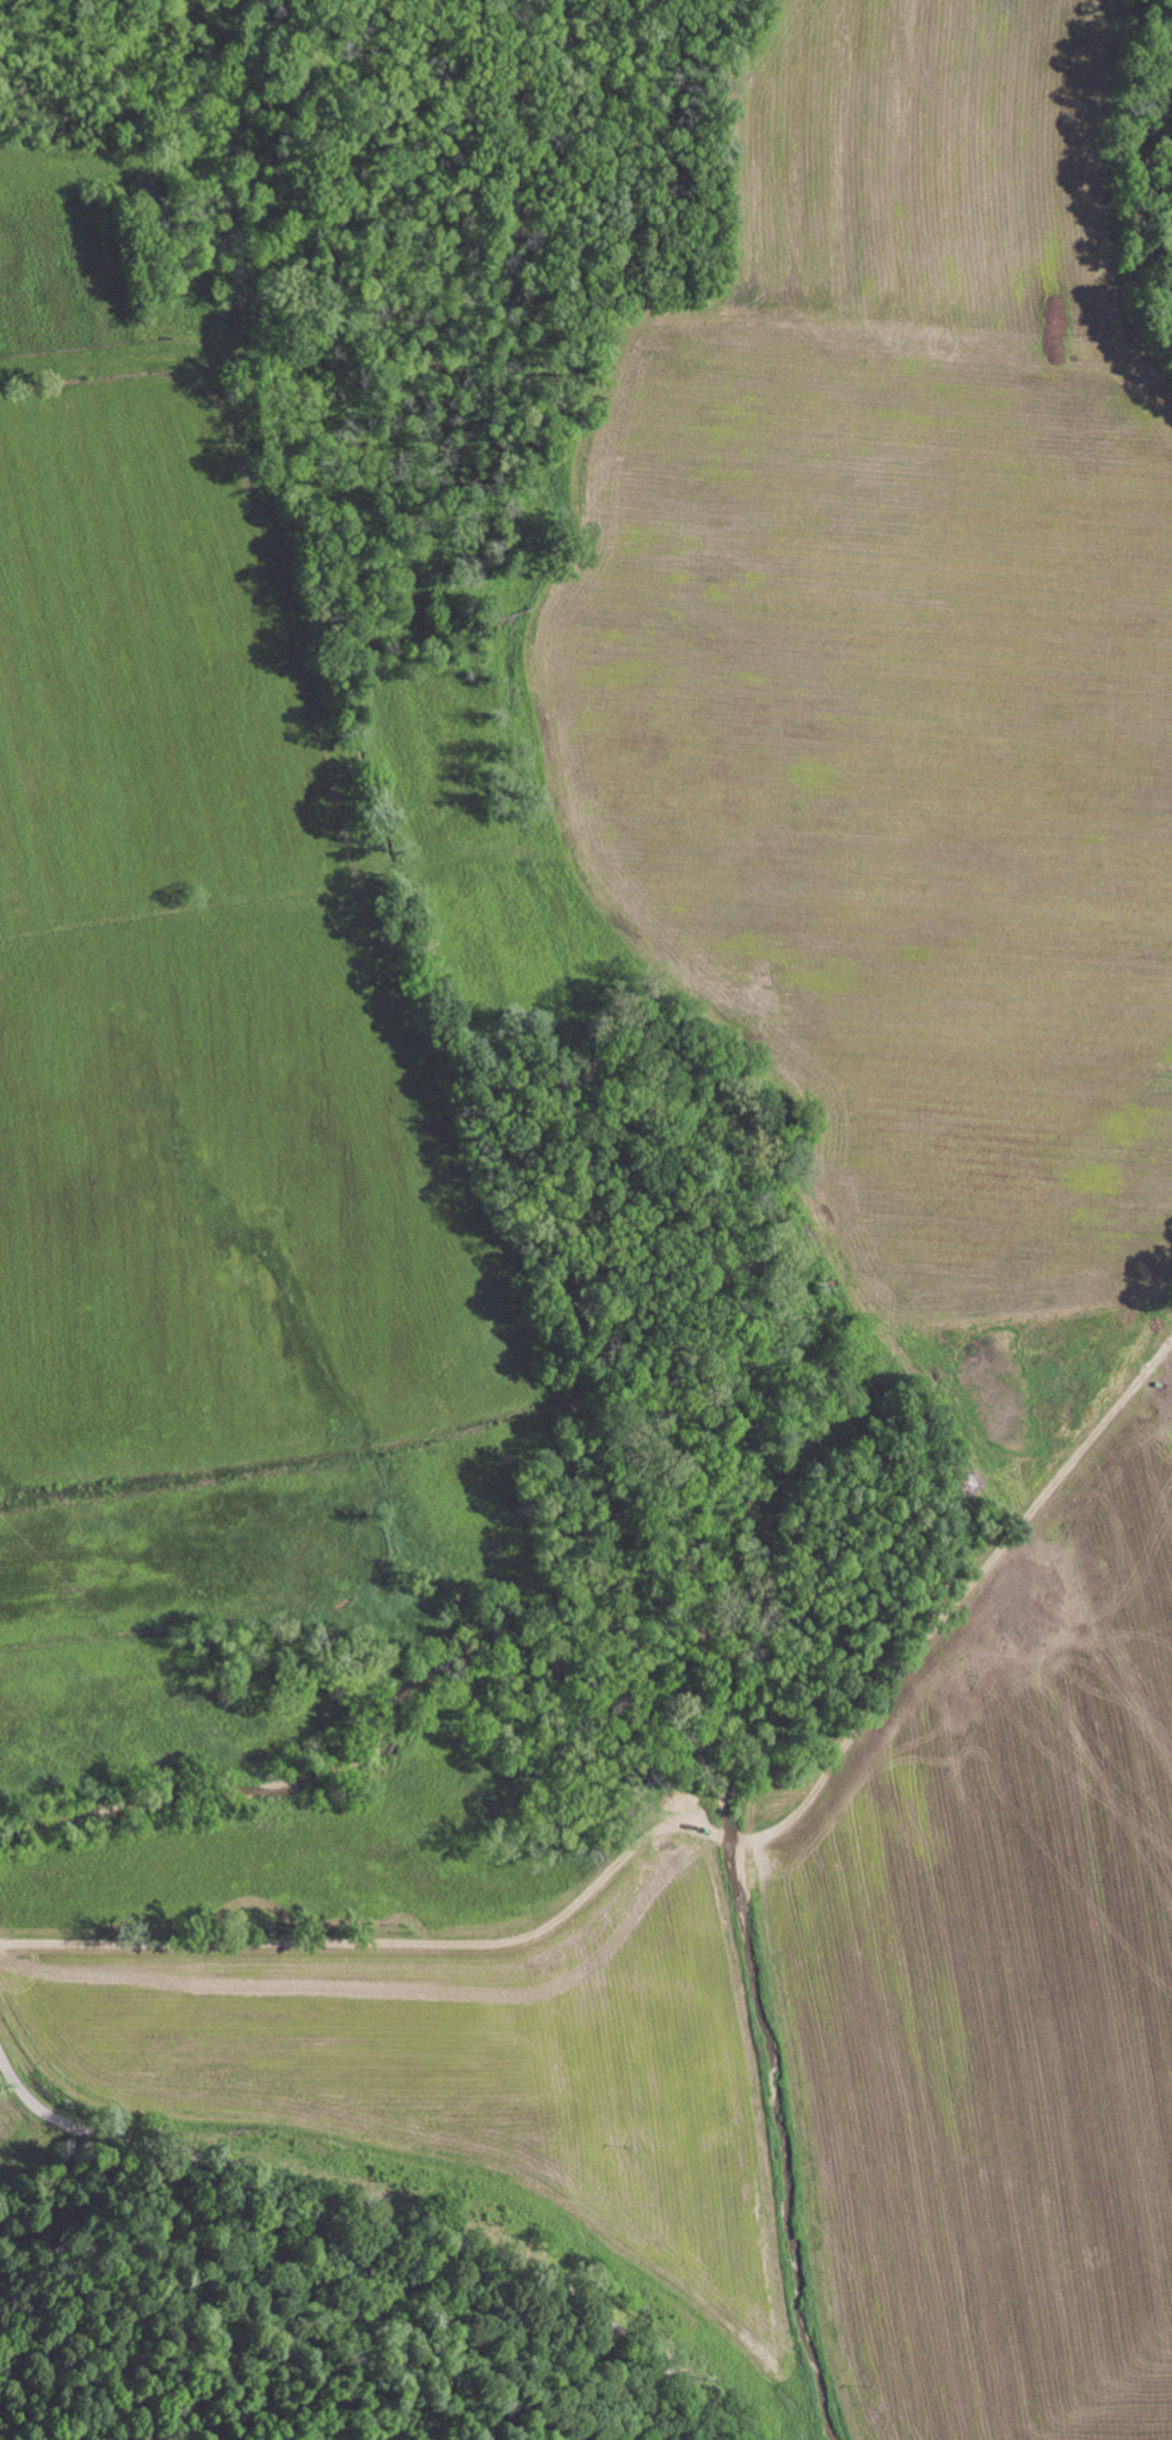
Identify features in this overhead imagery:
road: (689, 1866)
road: (387, 2214)

